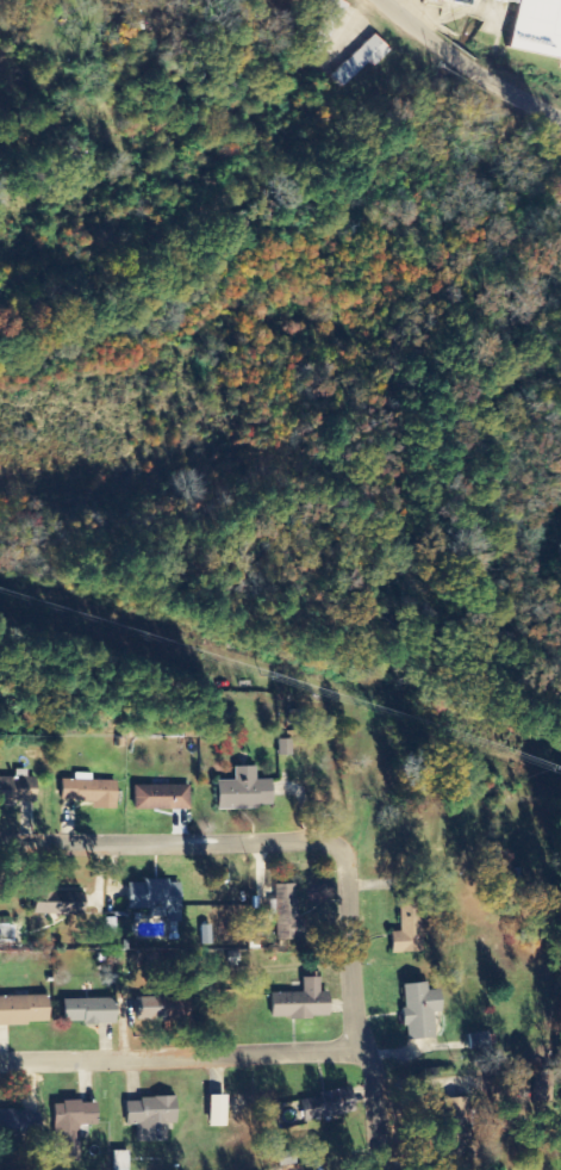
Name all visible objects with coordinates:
building: (510, 0)
building: (454, 1)
building: (324, 23)
building: (536, 26)
building: (359, 60)
road: (469, 61)
building: (86, 791)
building: (239, 791)
building: (17, 792)
building: (160, 798)
road: (272, 842)
building: (152, 897)
building: (54, 903)
building: (285, 915)
building: (405, 936)
building: (298, 1003)
building: (23, 1010)
building: (148, 1010)
building: (85, 1011)
building: (417, 1011)
building: (473, 1040)
road: (181, 1058)
building: (323, 1106)
road: (380, 1108)
building: (214, 1112)
building: (148, 1118)
building: (450, 1119)
building: (18, 1122)
building: (68, 1129)
building: (118, 1160)

